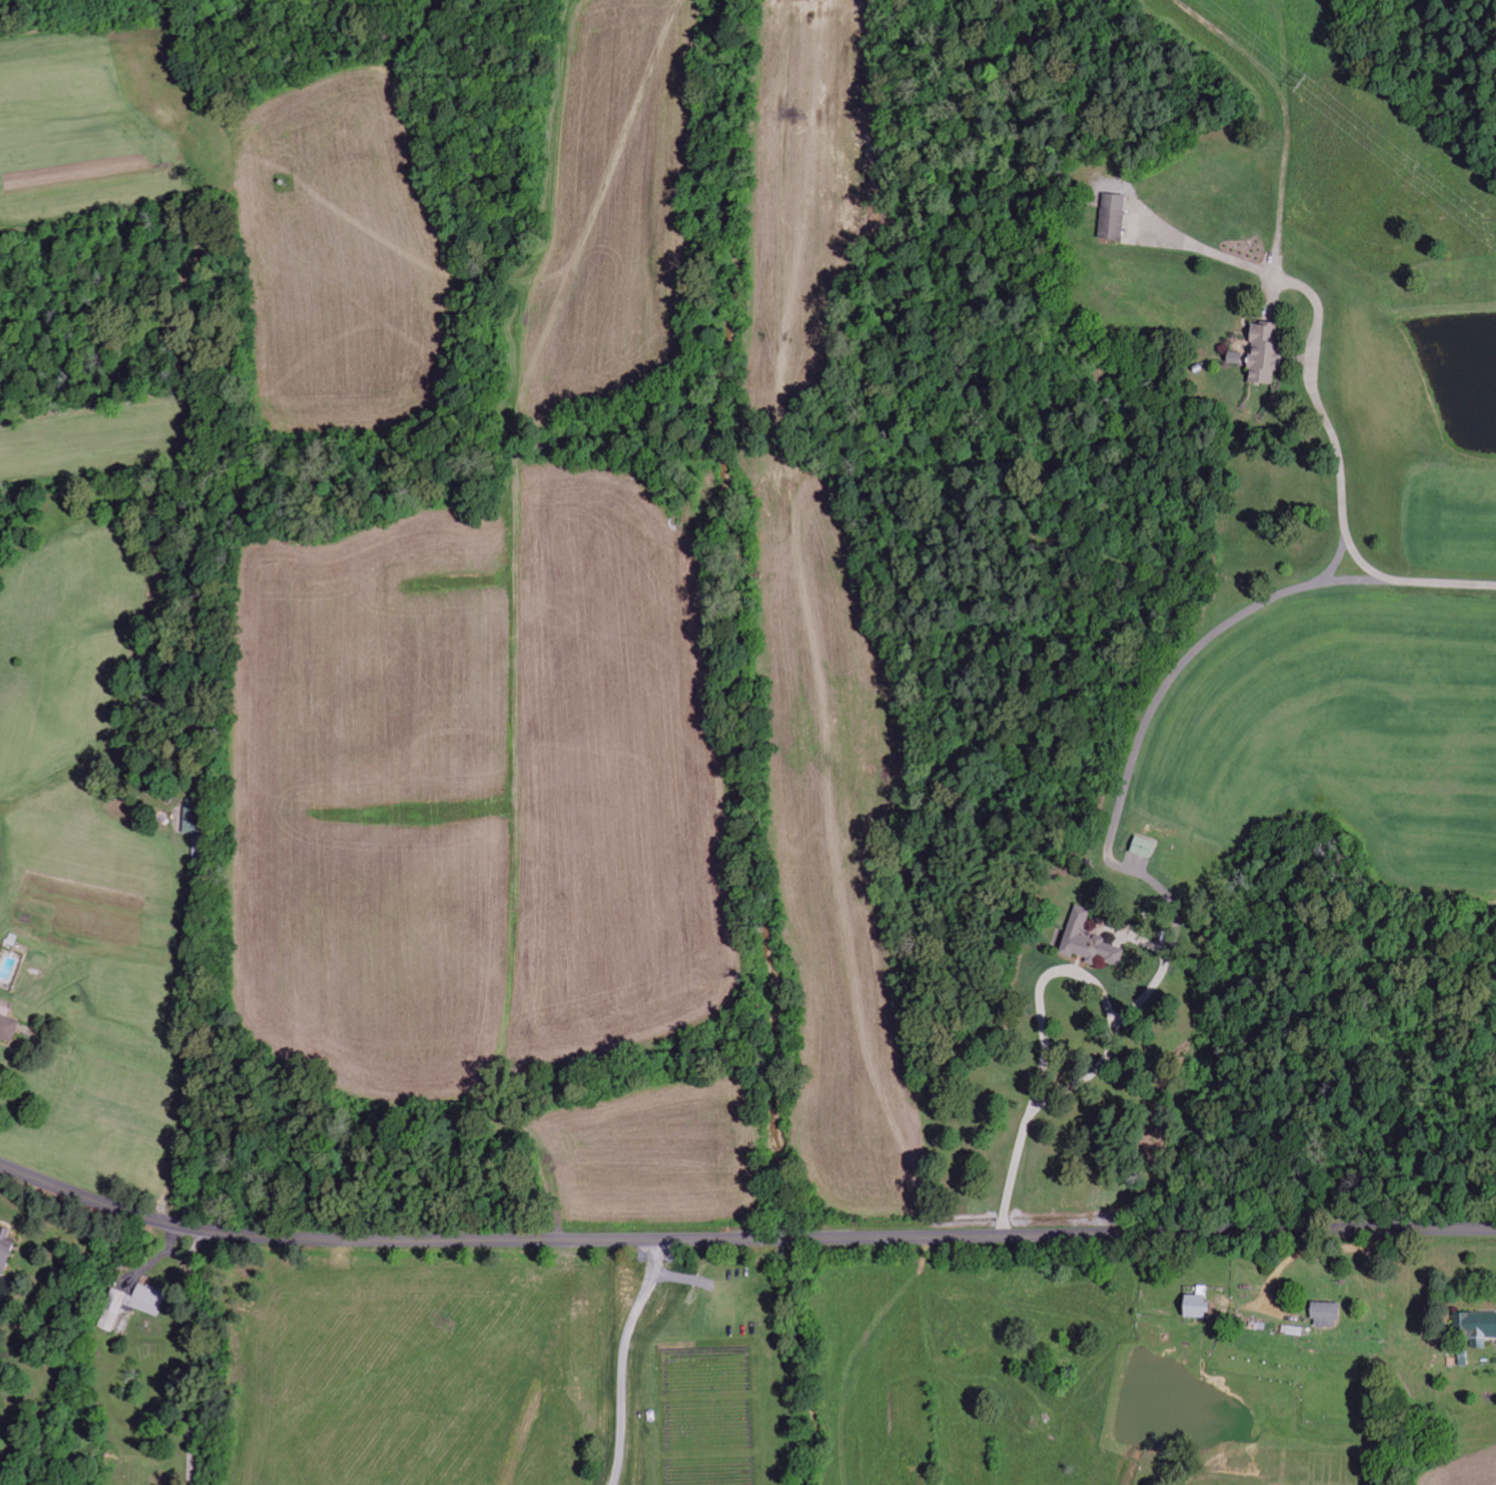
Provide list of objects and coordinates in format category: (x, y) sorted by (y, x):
building: (1113, 218)
building: (1266, 355)
building: (1237, 359)
building: (194, 821)
building: (1144, 847)
building: (1090, 943)
building: (8, 1025)
road: (741, 1237)
building: (6, 1250)
building: (131, 1305)
building: (1200, 1306)
building: (1326, 1315)
building: (1477, 1326)

